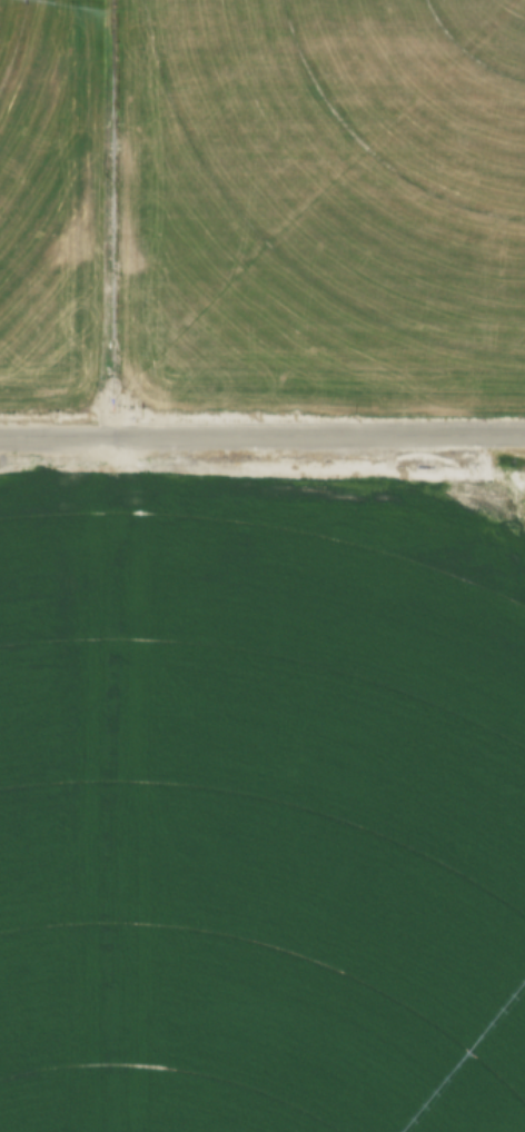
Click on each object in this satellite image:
road: (262, 434)

